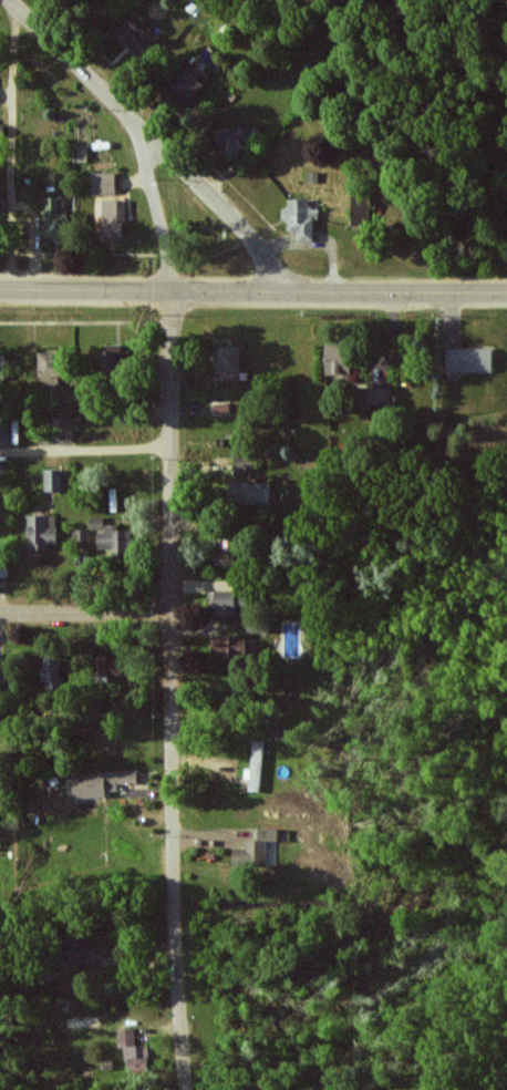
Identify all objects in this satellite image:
building: (86, 0)
building: (139, 41)
building: (189, 85)
building: (1, 131)
road: (157, 140)
building: (234, 141)
road: (11, 147)
building: (105, 183)
building: (2, 206)
building: (361, 210)
building: (302, 219)
building: (58, 220)
building: (115, 220)
road: (252, 292)
building: (232, 360)
building: (470, 360)
building: (340, 361)
building: (112, 363)
building: (2, 364)
building: (54, 368)
building: (379, 397)
building: (6, 435)
road: (86, 450)
building: (245, 463)
building: (53, 481)
building: (251, 493)
building: (42, 533)
building: (111, 537)
building: (81, 538)
building: (227, 553)
building: (3, 567)
road: (173, 603)
building: (224, 605)
road: (86, 615)
building: (230, 646)
building: (112, 664)
building: (53, 671)
building: (256, 767)
building: (100, 782)
building: (256, 849)
building: (77, 947)
building: (134, 1051)

